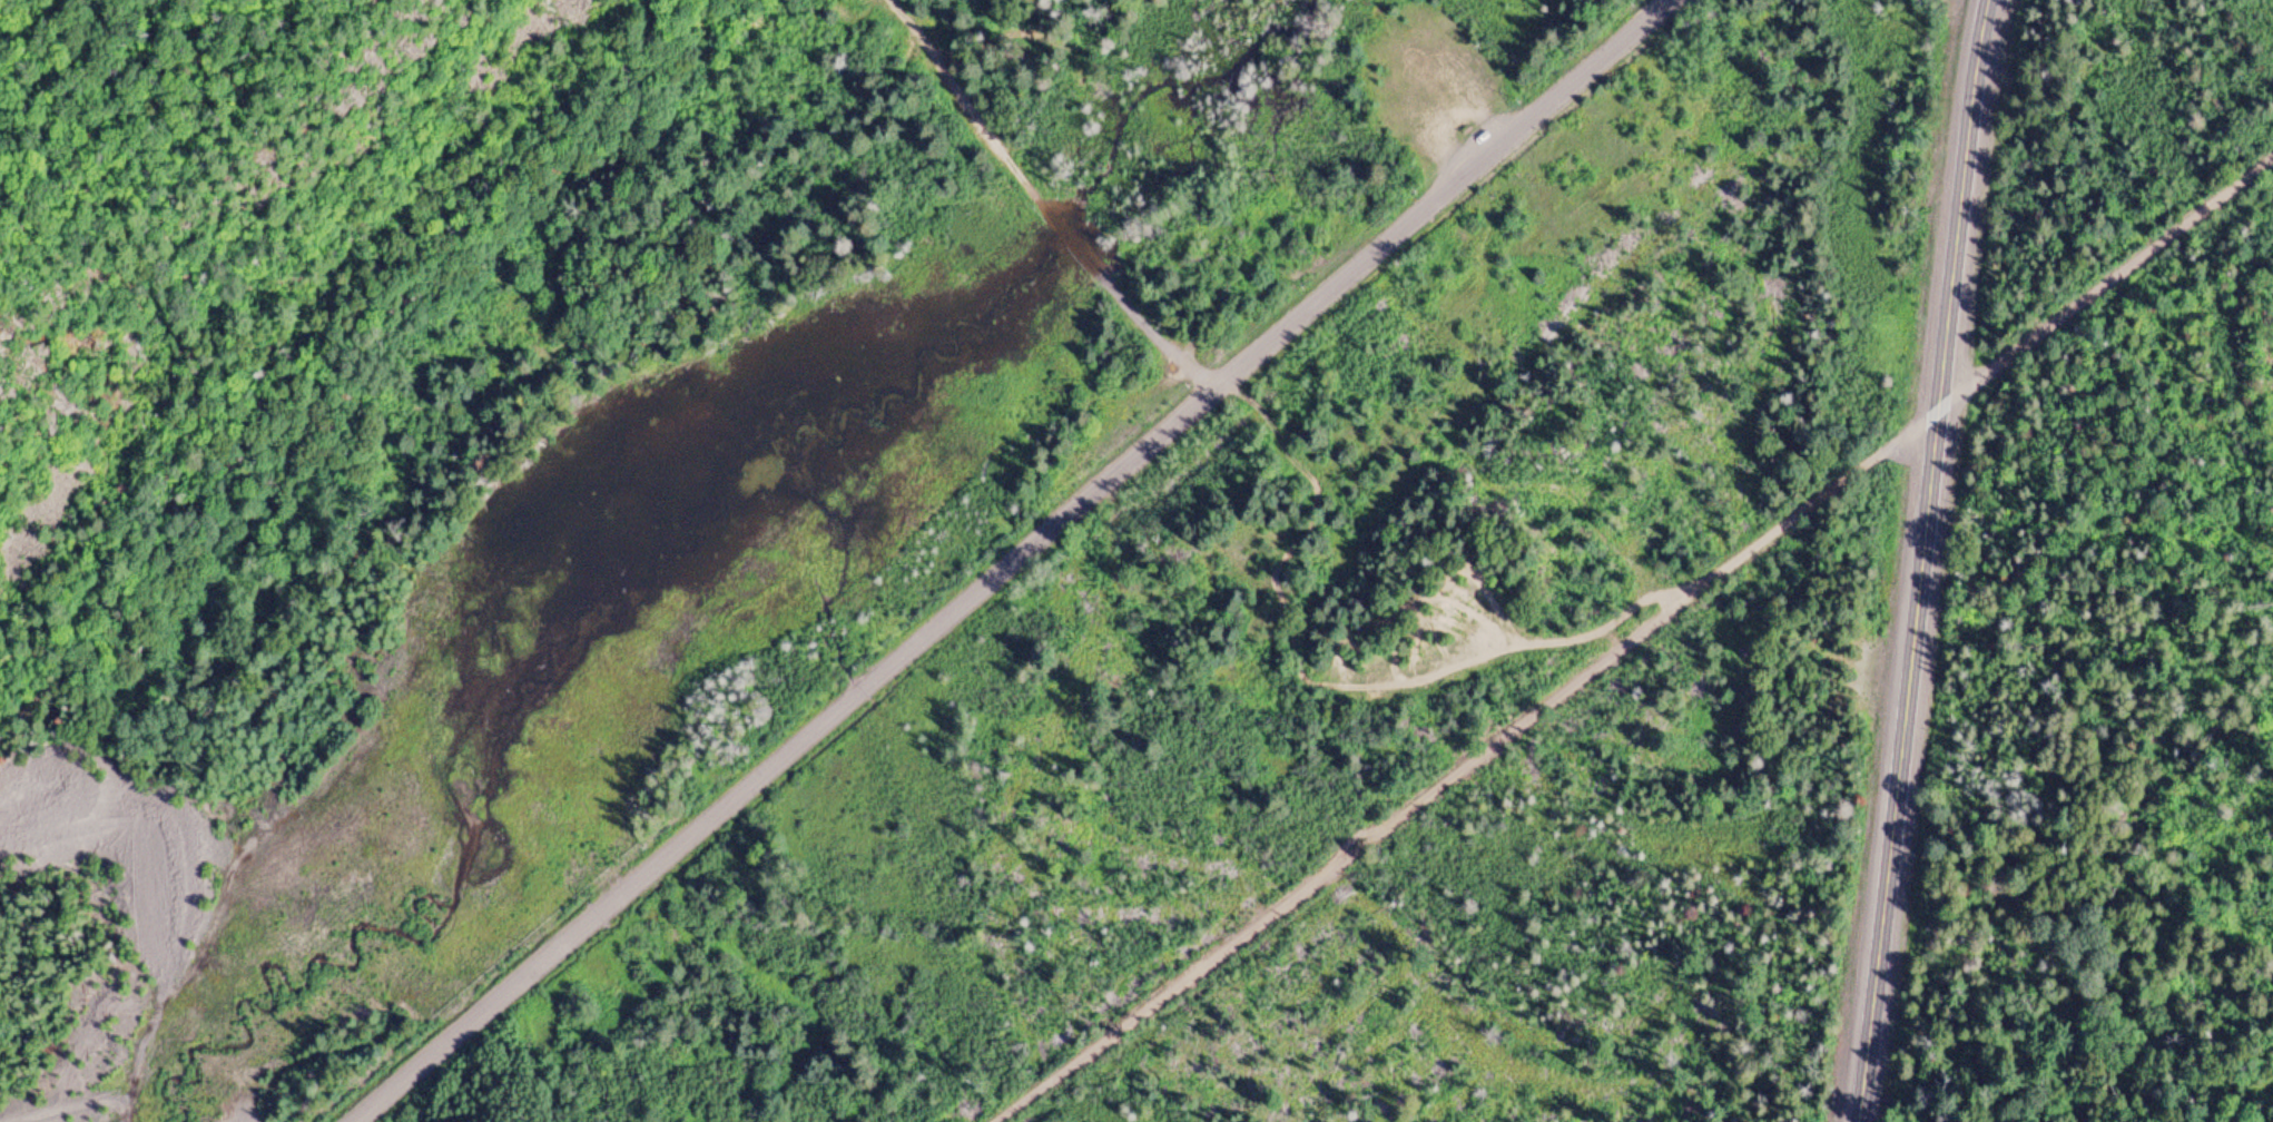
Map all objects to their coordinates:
park: (1955, 2)
road: (676, 90)
road: (972, 109)
road: (1064, 236)
park: (652, 244)
road: (1143, 322)
river: (696, 472)
road: (1919, 561)
road: (1008, 562)
road: (1626, 634)

